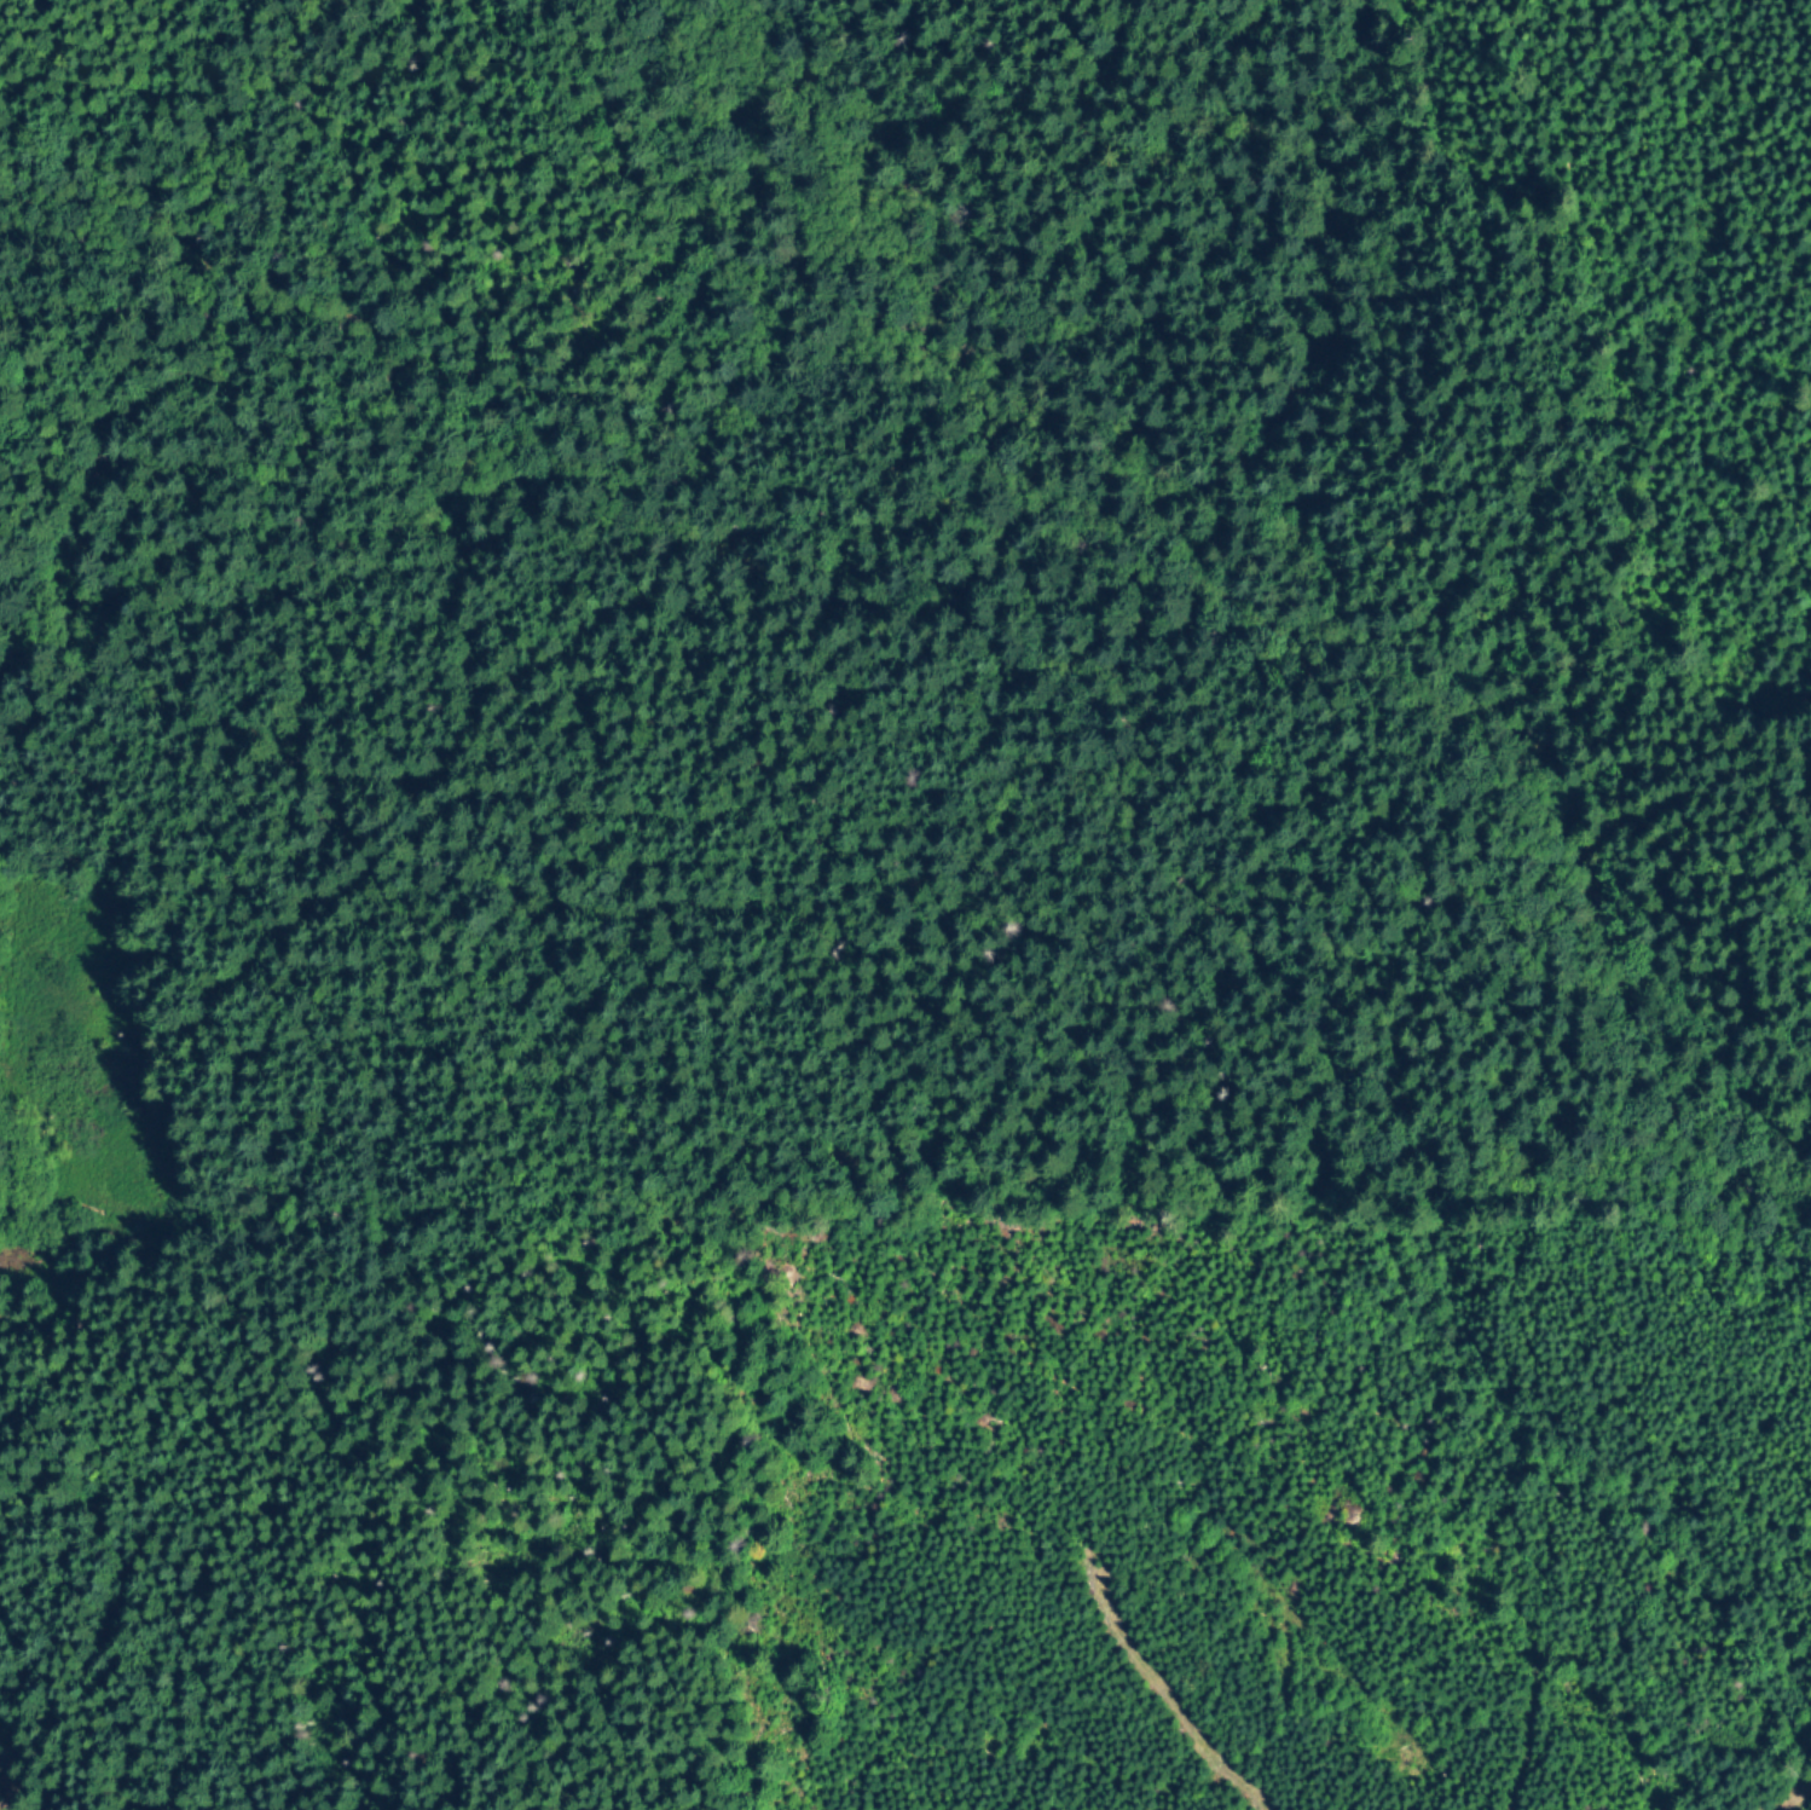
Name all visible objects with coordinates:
road: (1796, 1798)

